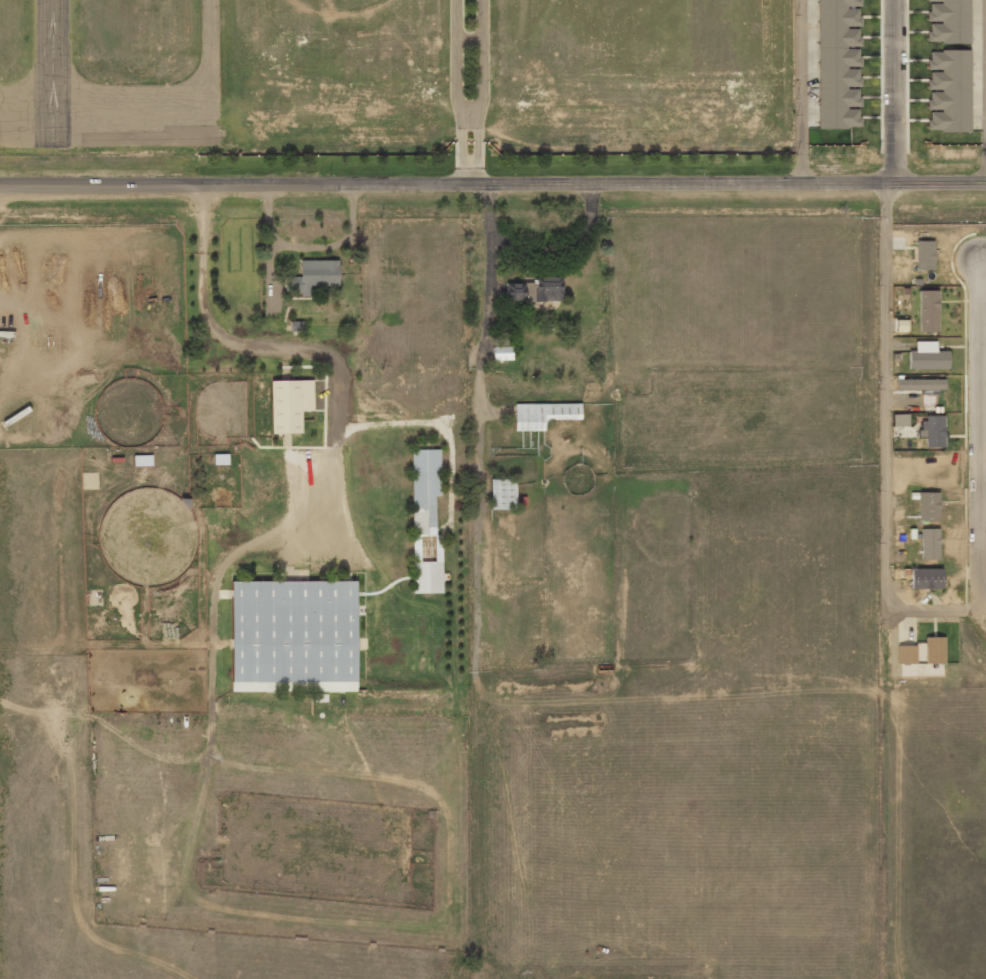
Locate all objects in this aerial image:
building: (947, 21)
building: (839, 64)
airport runway: (50, 72)
airport: (395, 78)
road: (900, 90)
road: (456, 91)
road: (482, 91)
building: (948, 91)
airport taxiway: (182, 104)
airport taxiway: (25, 127)
road: (493, 181)
building: (924, 255)
building: (312, 276)
building: (535, 290)
building: (928, 311)
building: (501, 353)
building: (927, 356)
building: (919, 384)
building: (289, 404)
building: (543, 414)
building: (900, 419)
road: (979, 427)
building: (933, 430)
building: (220, 459)
building: (142, 460)
building: (502, 494)
building: (927, 506)
building: (425, 521)
building: (929, 543)
building: (926, 578)
road: (984, 598)
building: (293, 635)
building: (930, 650)
building: (906, 654)
building: (919, 669)
road: (150, 774)

